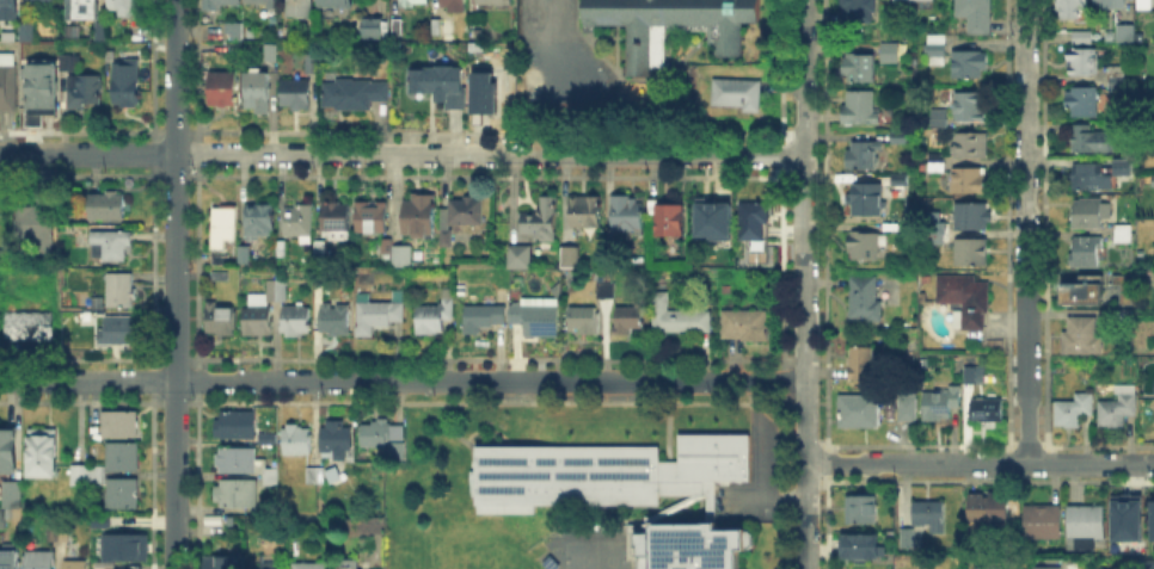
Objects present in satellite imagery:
building: (915, 0)
building: (43, 2)
building: (263, 2)
building: (336, 2)
building: (415, 2)
building: (495, 2)
building: (11, 4)
building: (225, 4)
building: (1112, 4)
building: (1144, 5)
building: (123, 6)
building: (454, 6)
building: (1073, 8)
building: (84, 10)
building: (300, 10)
building: (857, 11)
building: (976, 16)
building: (670, 25)
building: (398, 27)
building: (444, 29)
building: (374, 30)
building: (477, 30)
building: (2, 31)
building: (25, 32)
building: (100, 32)
building: (235, 32)
building: (1128, 36)
building: (74, 37)
building: (1085, 39)
road: (565, 48)
building: (938, 51)
building: (271, 54)
building: (891, 55)
building: (73, 62)
building: (1085, 63)
building: (313, 64)
building: (970, 64)
building: (861, 69)
building: (1118, 80)
building: (127, 85)
building: (441, 86)
building: (8, 87)
building: (44, 87)
building: (241, 91)
building: (85, 92)
building: (296, 94)
building: (739, 94)
building: (351, 97)
building: (486, 99)
building: (1084, 103)
building: (971, 107)
building: (863, 109)
building: (941, 120)
building: (1095, 137)
building: (901, 140)
building: (974, 147)
road: (401, 154)
building: (866, 156)
building: (939, 165)
building: (1119, 166)
building: (1129, 167)
building: (1093, 174)
building: (971, 181)
building: (868, 200)
building: (109, 206)
building: (588, 212)
building: (416, 214)
building: (368, 215)
building: (1088, 215)
building: (628, 216)
building: (460, 217)
building: (711, 217)
building: (667, 218)
building: (972, 218)
building: (542, 219)
building: (755, 221)
building: (260, 222)
building: (337, 222)
building: (300, 223)
building: (223, 227)
building: (41, 229)
building: (934, 229)
road: (805, 231)
road: (1027, 231)
building: (1124, 236)
building: (383, 245)
building: (112, 246)
building: (865, 246)
building: (321, 249)
building: (975, 253)
building: (1088, 253)
building: (399, 254)
building: (246, 256)
building: (522, 258)
building: (571, 259)
building: (1153, 282)
road: (174, 284)
building: (122, 290)
building: (607, 291)
building: (1127, 291)
building: (1087, 297)
building: (867, 302)
building: (966, 302)
building: (263, 311)
building: (379, 313)
building: (432, 315)
building: (1123, 316)
building: (483, 317)
building: (220, 320)
building: (536, 320)
building: (585, 320)
building: (630, 320)
building: (336, 321)
building: (296, 322)
building: (685, 323)
building: (31, 327)
building: (747, 327)
building: (123, 330)
building: (1084, 338)
building: (863, 364)
building: (975, 376)
road: (401, 379)
building: (1153, 381)
building: (941, 404)
building: (1117, 408)
building: (988, 410)
building: (1074, 412)
building: (860, 413)
building: (908, 413)
building: (121, 425)
building: (237, 426)
building: (373, 432)
building: (297, 441)
building: (337, 441)
building: (393, 449)
building: (8, 452)
building: (43, 452)
building: (122, 458)
building: (239, 460)
road: (754, 460)
road: (916, 464)
road: (1091, 464)
building: (94, 475)
building: (79, 476)
building: (314, 476)
building: (271, 480)
building: (622, 488)
building: (124, 493)
building: (238, 495)
building: (13, 496)
building: (981, 508)
building: (864, 511)
road: (806, 515)
building: (932, 517)
building: (1124, 517)
building: (1150, 517)
building: (2, 519)
building: (1044, 522)
building: (1087, 526)
building: (59, 534)
building: (909, 540)
building: (861, 546)
building: (127, 549)
road: (591, 550)
building: (41, 561)
building: (220, 562)
building: (344, 563)
building: (10, 564)
building: (1149, 564)
building: (75, 565)
building: (268, 567)
building: (311, 567)
building: (1058, 567)
building: (368, 568)
building: (1098, 568)

